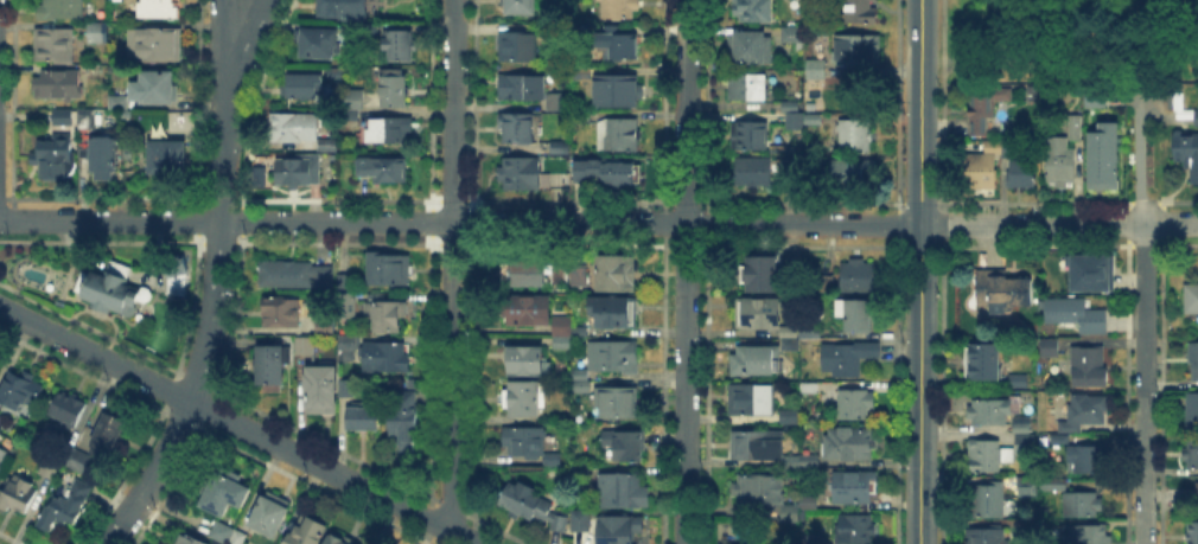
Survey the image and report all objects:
road: (229, 7)
building: (520, 7)
building: (62, 9)
building: (158, 9)
building: (343, 9)
building: (618, 9)
building: (750, 12)
building: (861, 12)
building: (350, 31)
building: (788, 31)
building: (368, 32)
building: (97, 33)
road: (1056, 41)
park: (1070, 41)
building: (318, 45)
building: (400, 45)
building: (53, 46)
building: (517, 46)
building: (617, 46)
building: (155, 47)
building: (750, 47)
building: (858, 51)
road: (1070, 55)
road: (1153, 64)
building: (816, 70)
road: (931, 70)
road: (1032, 71)
road: (1151, 73)
building: (336, 75)
building: (581, 76)
building: (57, 87)
building: (371, 87)
building: (747, 87)
building: (155, 88)
building: (306, 88)
building: (522, 88)
building: (395, 89)
building: (618, 89)
building: (1094, 94)
building: (350, 98)
building: (1174, 101)
building: (120, 103)
building: (557, 103)
building: (790, 107)
building: (982, 108)
building: (1196, 117)
building: (63, 119)
building: (88, 120)
building: (813, 120)
building: (791, 122)
building: (1073, 128)
building: (388, 129)
building: (517, 129)
building: (301, 132)
building: (619, 135)
building: (750, 136)
building: (855, 137)
building: (994, 147)
building: (560, 149)
building: (1008, 151)
road: (1139, 153)
building: (1186, 153)
building: (103, 154)
building: (55, 155)
building: (1100, 155)
building: (166, 160)
building: (1059, 161)
building: (384, 171)
building: (979, 171)
building: (298, 173)
building: (557, 173)
building: (606, 173)
building: (753, 173)
building: (854, 173)
building: (521, 174)
building: (1021, 175)
road: (598, 223)
road: (451, 264)
building: (389, 271)
road: (684, 271)
road: (920, 271)
building: (174, 273)
building: (524, 273)
building: (295, 275)
building: (560, 275)
building: (580, 275)
building: (617, 275)
building: (1075, 275)
building: (763, 276)
building: (859, 276)
road: (1146, 279)
road: (215, 281)
building: (344, 283)
building: (827, 286)
building: (113, 290)
building: (1002, 293)
building: (1192, 299)
building: (346, 306)
building: (528, 312)
building: (611, 312)
building: (281, 313)
building: (757, 314)
building: (384, 316)
building: (861, 316)
building: (1076, 316)
building: (562, 327)
building: (324, 331)
building: (580, 334)
building: (790, 334)
building: (811, 334)
building: (562, 344)
building: (305, 346)
building: (1050, 348)
building: (344, 350)
building: (384, 357)
building: (611, 357)
building: (848, 359)
building: (757, 361)
building: (525, 363)
building: (981, 364)
building: (1193, 365)
building: (1089, 367)
building: (270, 373)
building: (1018, 382)
building: (346, 385)
building: (320, 386)
building: (580, 388)
building: (813, 389)
building: (19, 391)
building: (524, 401)
building: (751, 401)
building: (618, 403)
building: (856, 405)
building: (66, 409)
building: (1193, 411)
building: (990, 414)
building: (1085, 414)
building: (361, 417)
building: (790, 417)
building: (1022, 422)
road: (238, 424)
building: (404, 425)
building: (108, 436)
road: (1145, 439)
building: (524, 441)
building: (1059, 442)
building: (1025, 443)
building: (622, 446)
building: (850, 446)
building: (757, 447)
building: (987, 454)
building: (1192, 455)
building: (74, 459)
building: (4, 460)
building: (1088, 460)
building: (791, 461)
building: (809, 462)
building: (554, 463)
building: (50, 469)
building: (579, 471)
building: (854, 486)
building: (1026, 487)
building: (759, 489)
building: (224, 492)
building: (626, 493)
building: (17, 494)
building: (1197, 497)
building: (989, 501)
building: (807, 503)
building: (1082, 505)
building: (64, 506)
building: (534, 507)
building: (270, 513)
building: (791, 514)
building: (581, 521)
building: (619, 530)
building: (853, 530)
building: (308, 533)
building: (983, 535)
building: (1089, 535)
building: (1192, 535)
building: (227, 536)
building: (185, 540)
building: (338, 540)

